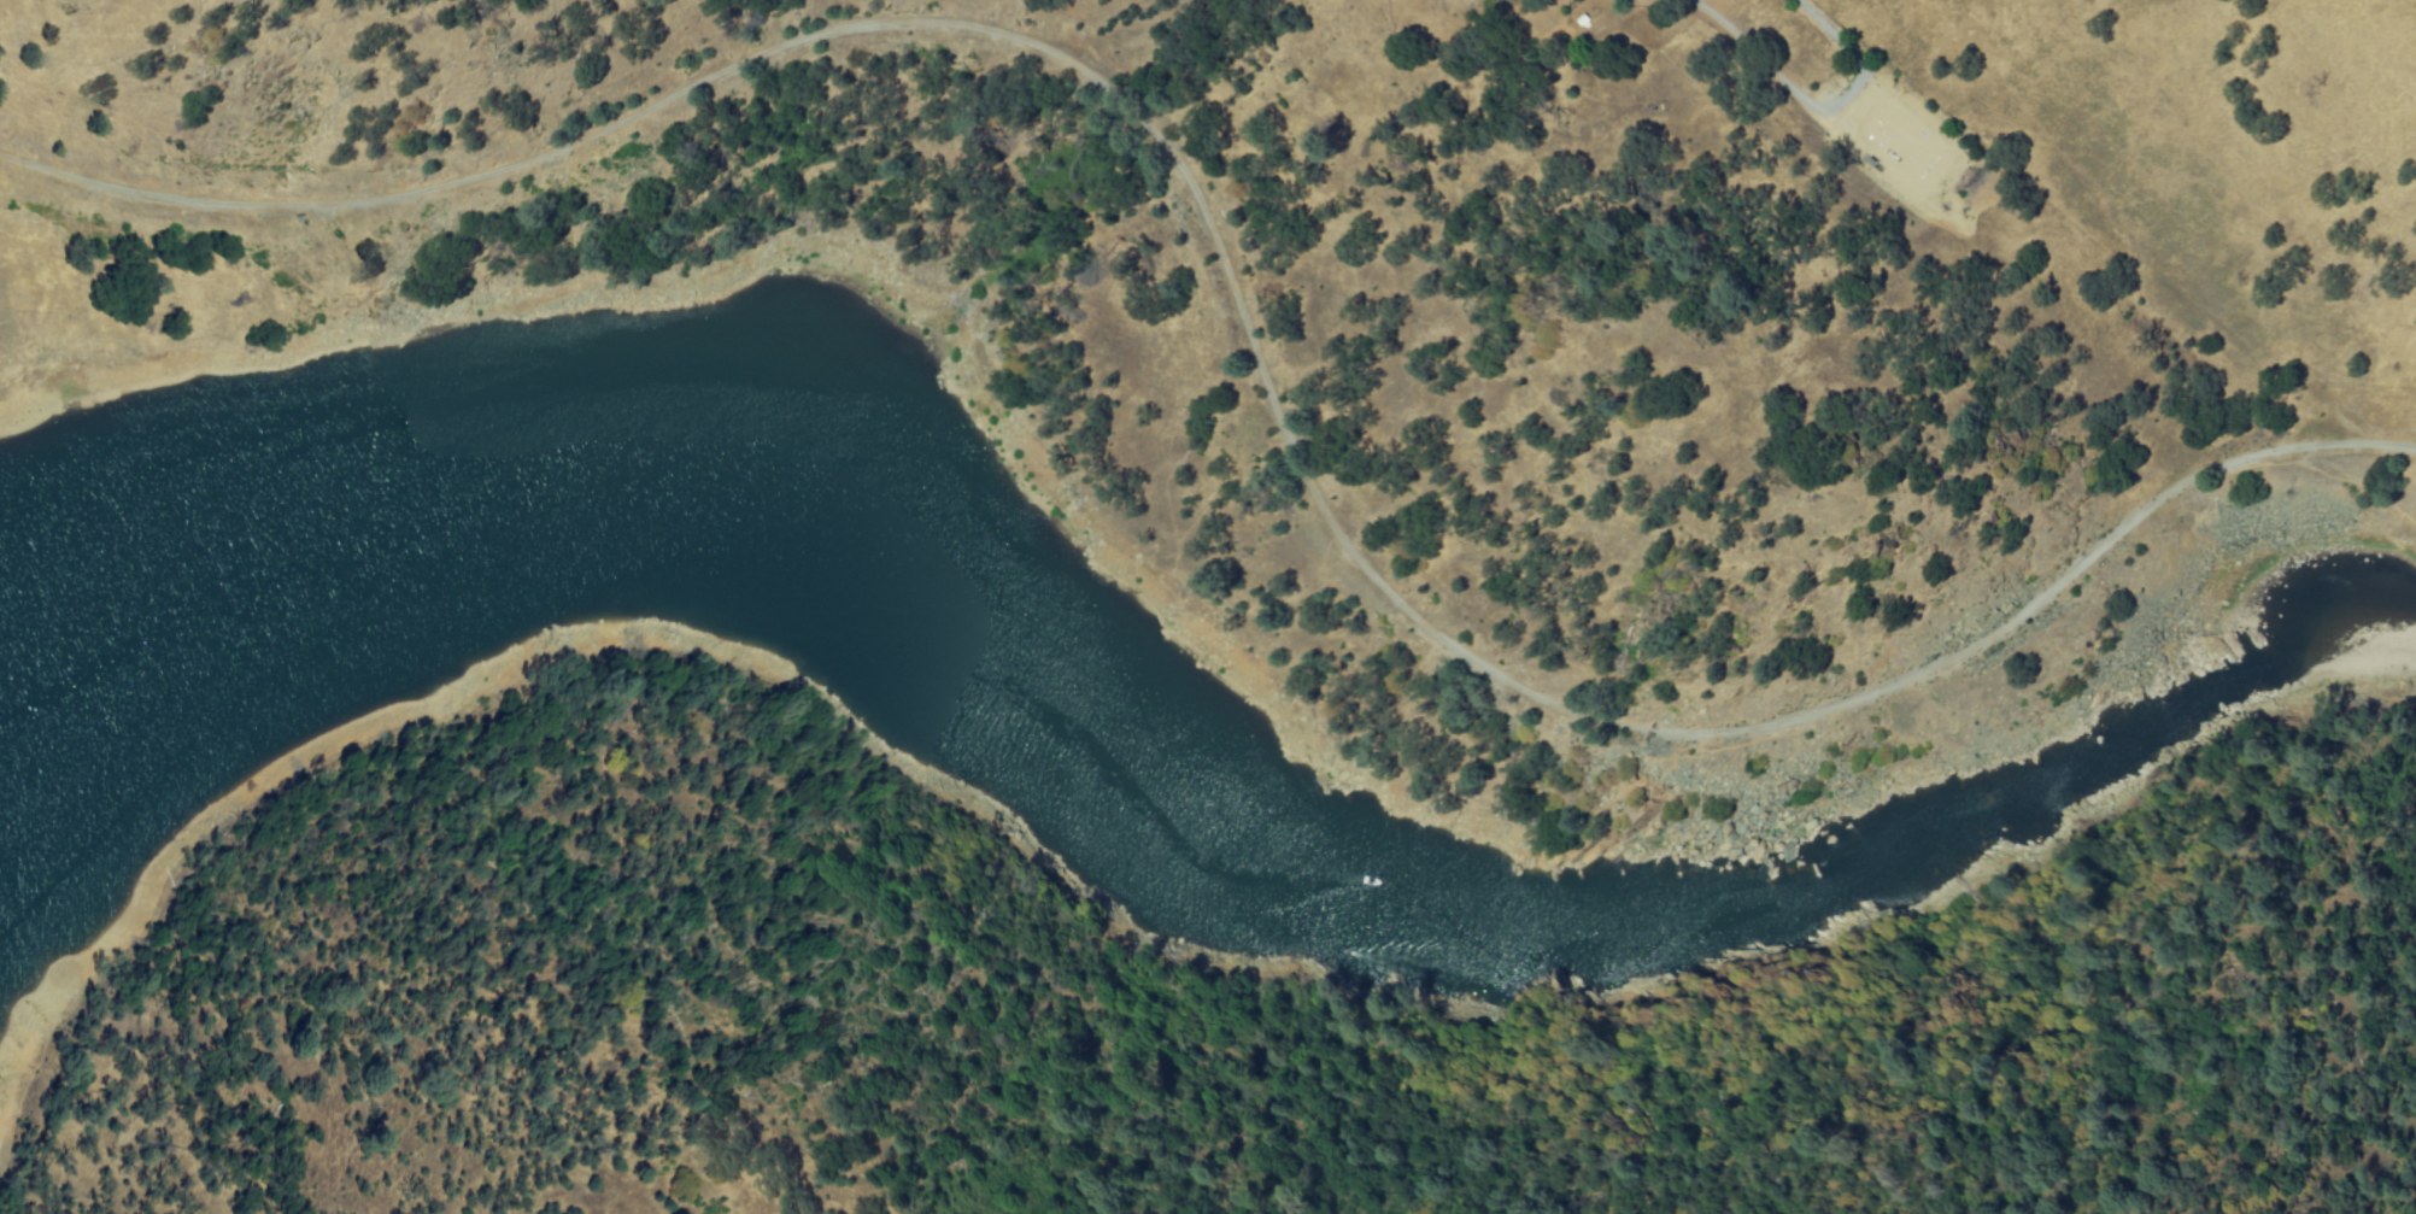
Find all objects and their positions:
road: (1237, 342)
river: (98, 557)
river: (30, 586)
river: (873, 587)
river: (2004, 782)

